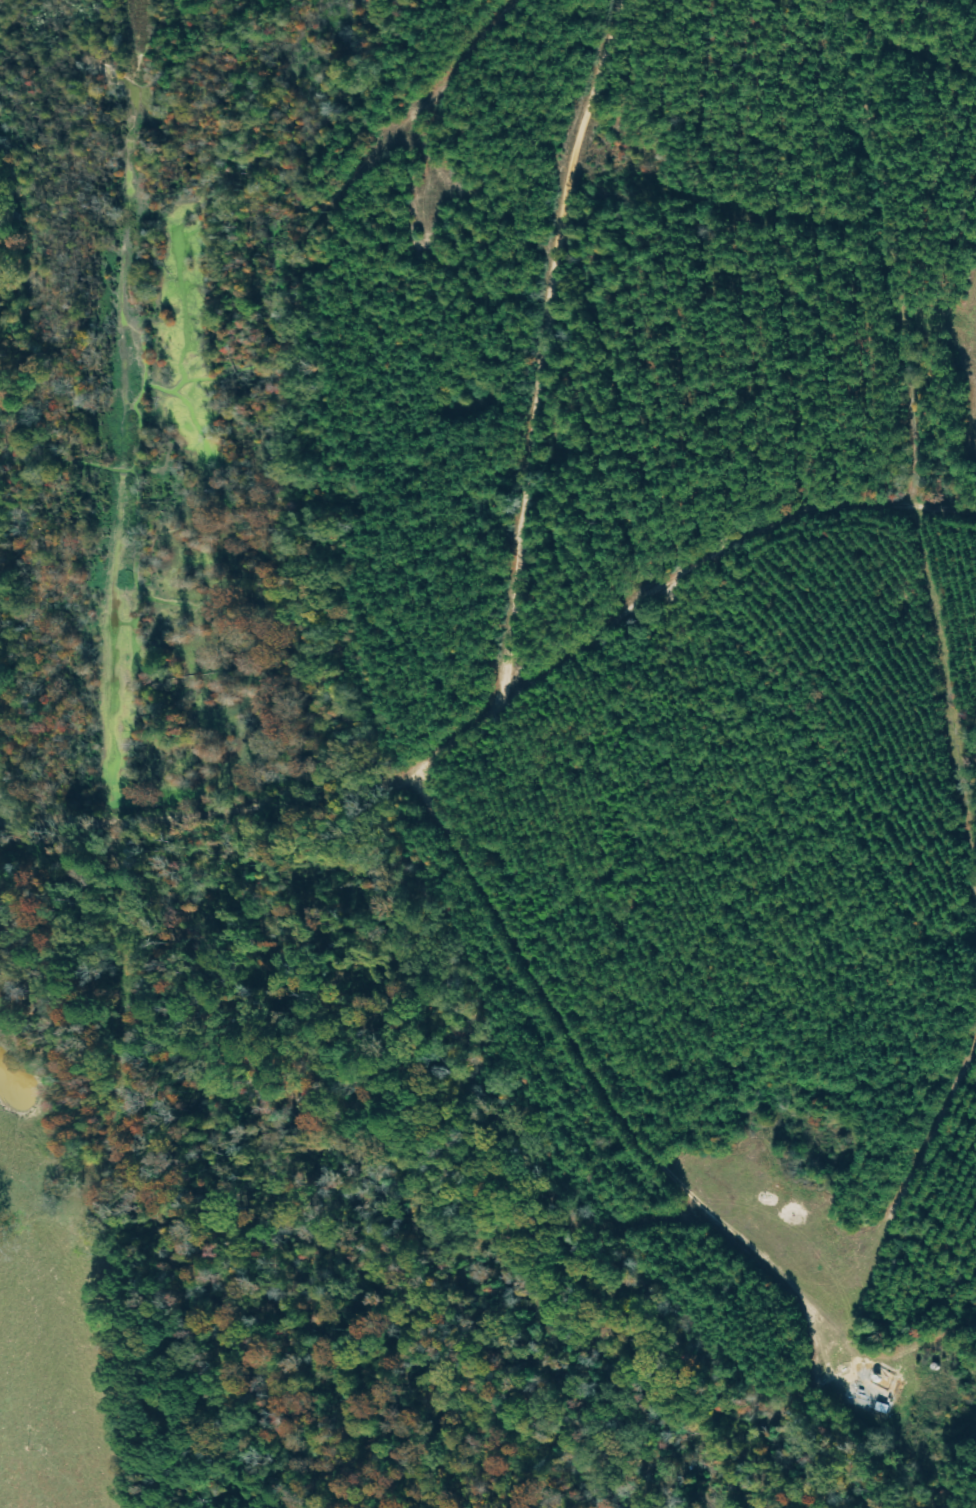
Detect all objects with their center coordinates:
road: (555, 303)
road: (750, 521)
road: (299, 772)

